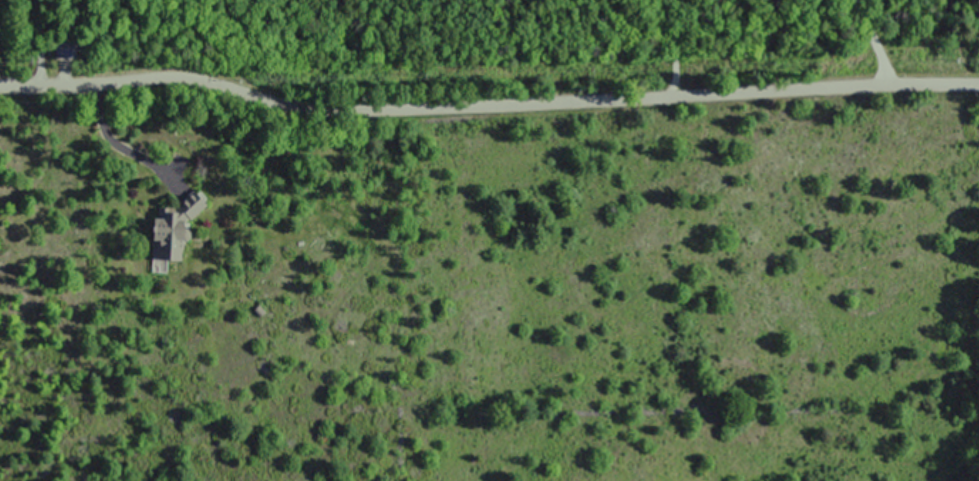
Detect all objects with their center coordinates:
road: (873, 44)
building: (63, 50)
road: (486, 105)
road: (117, 142)
building: (167, 232)

